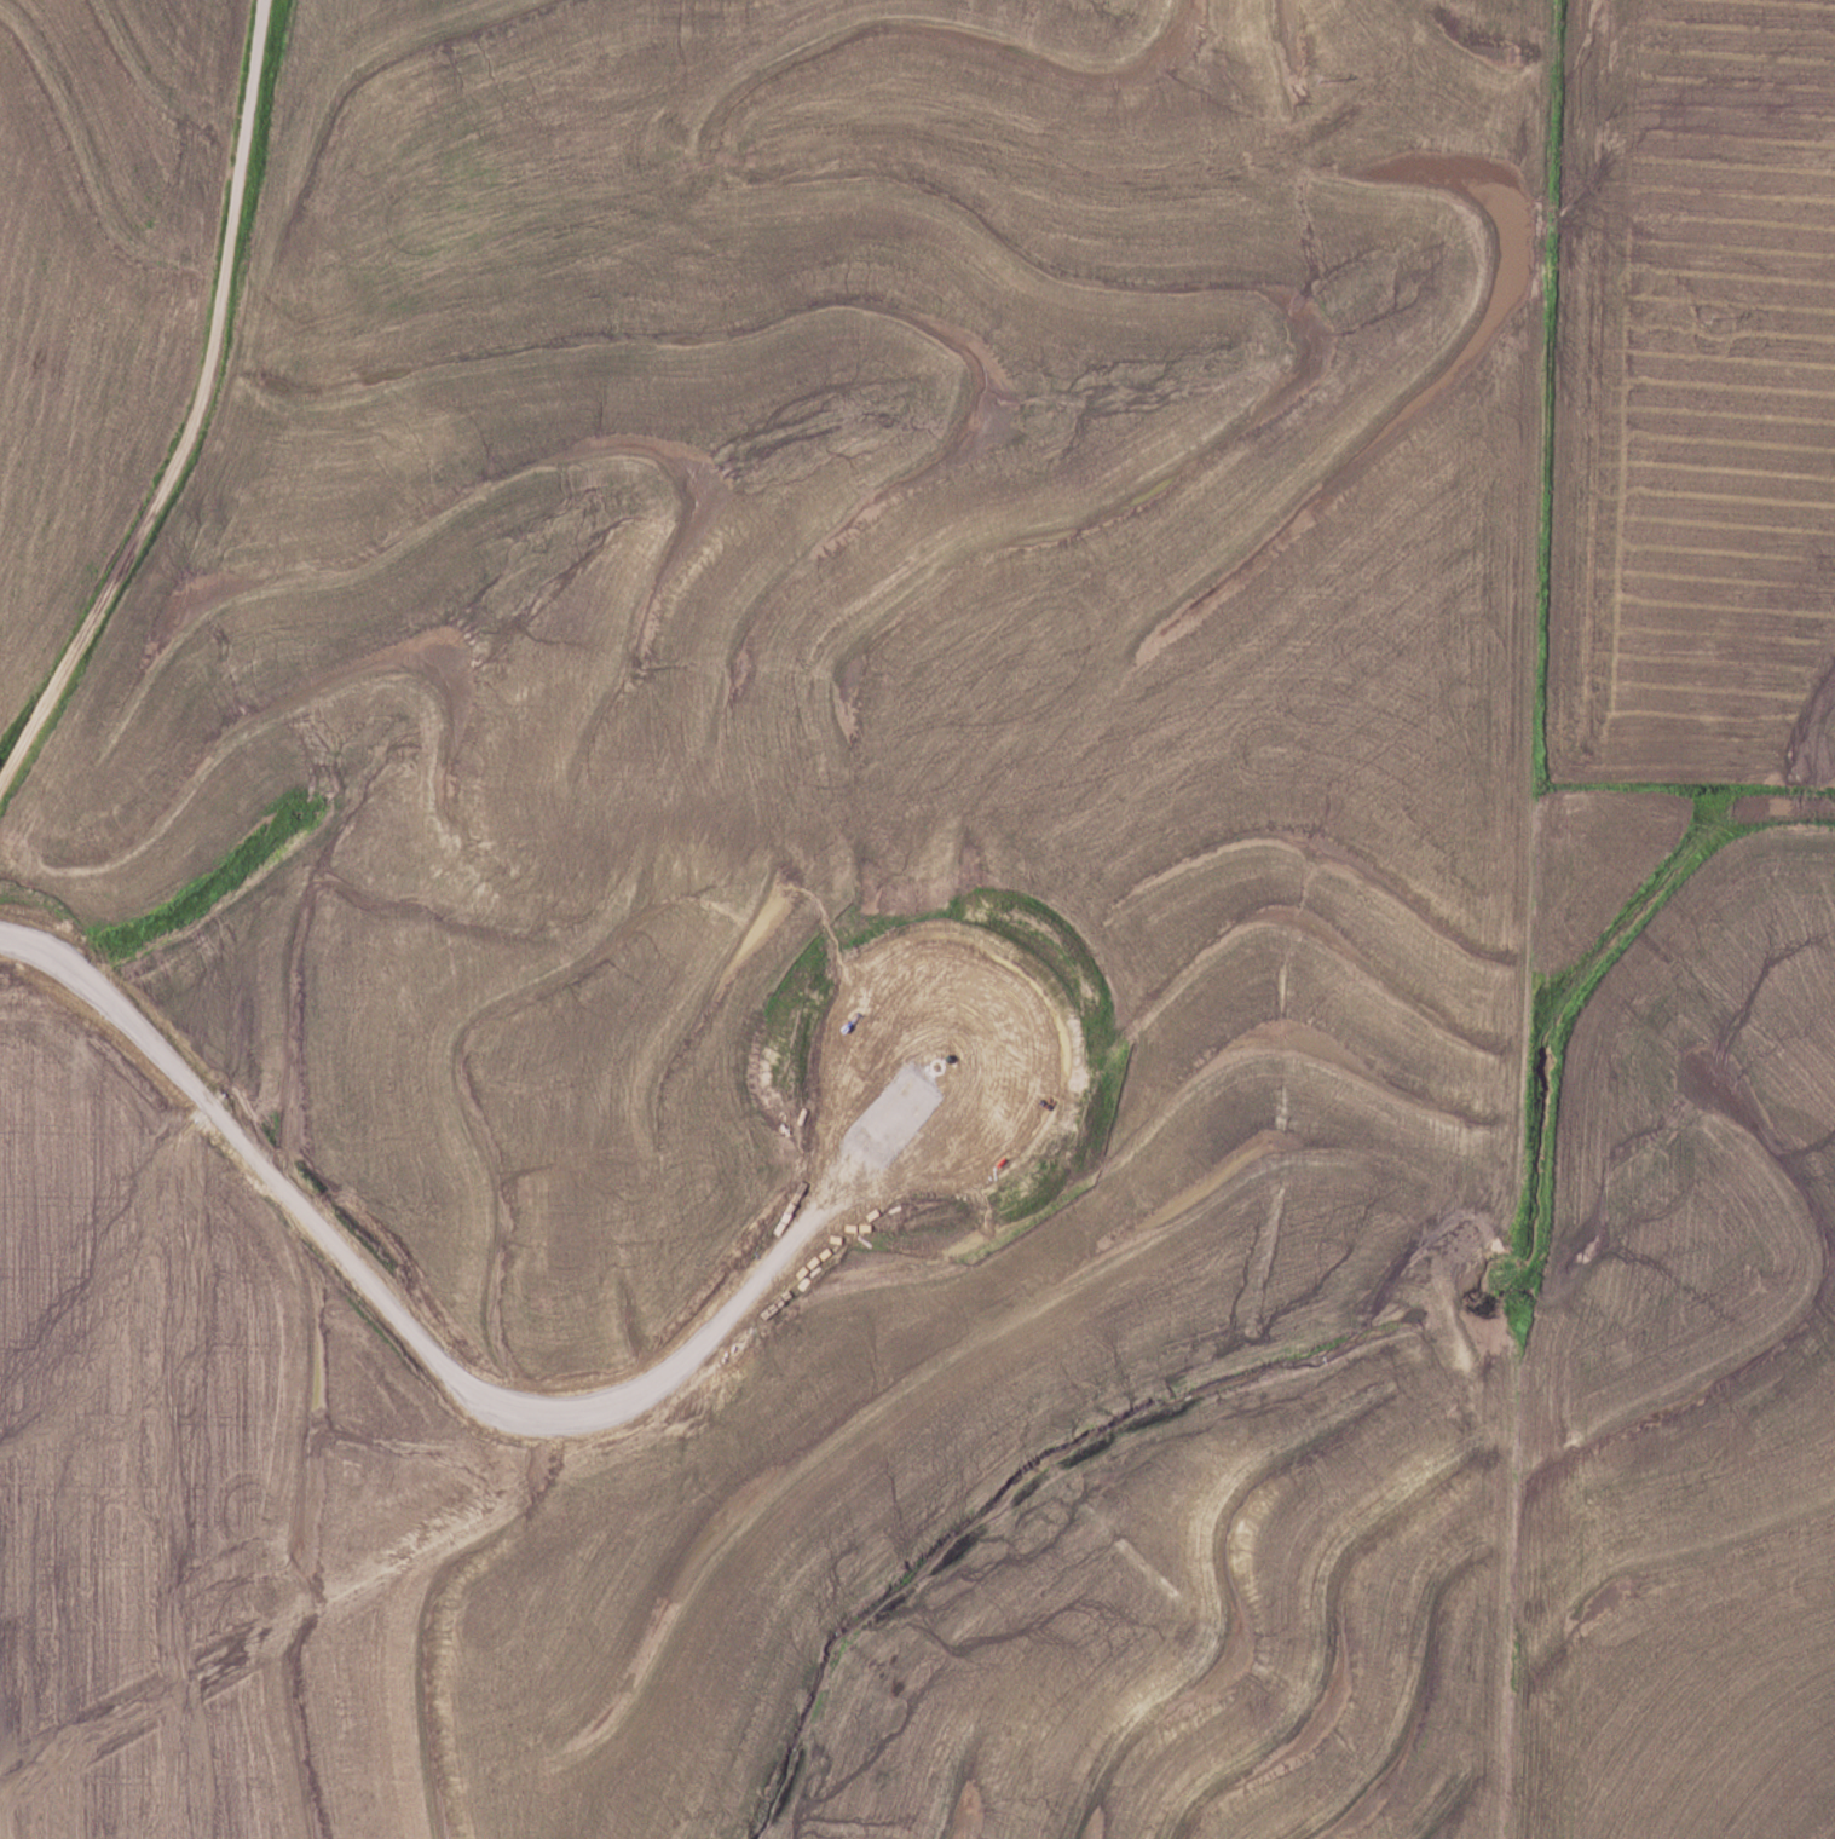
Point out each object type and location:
road: (195, 410)

